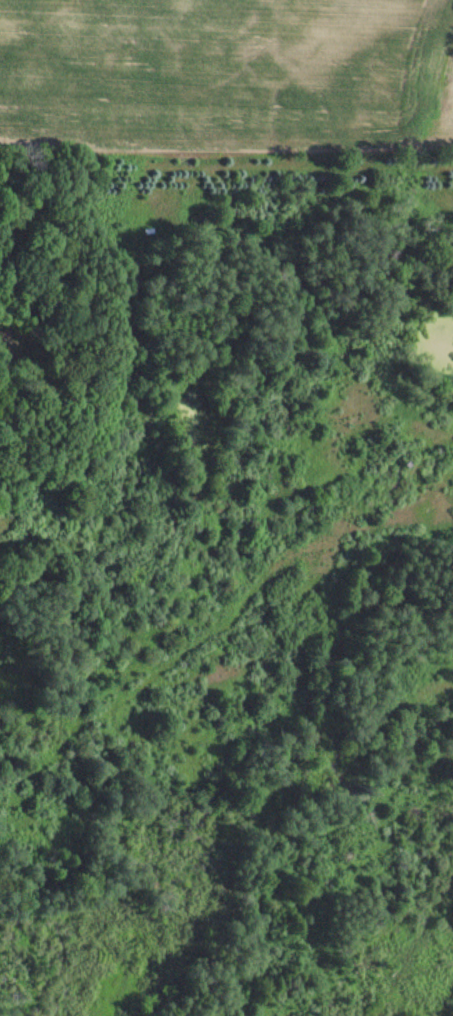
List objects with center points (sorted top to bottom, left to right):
crop: (231, 73)

